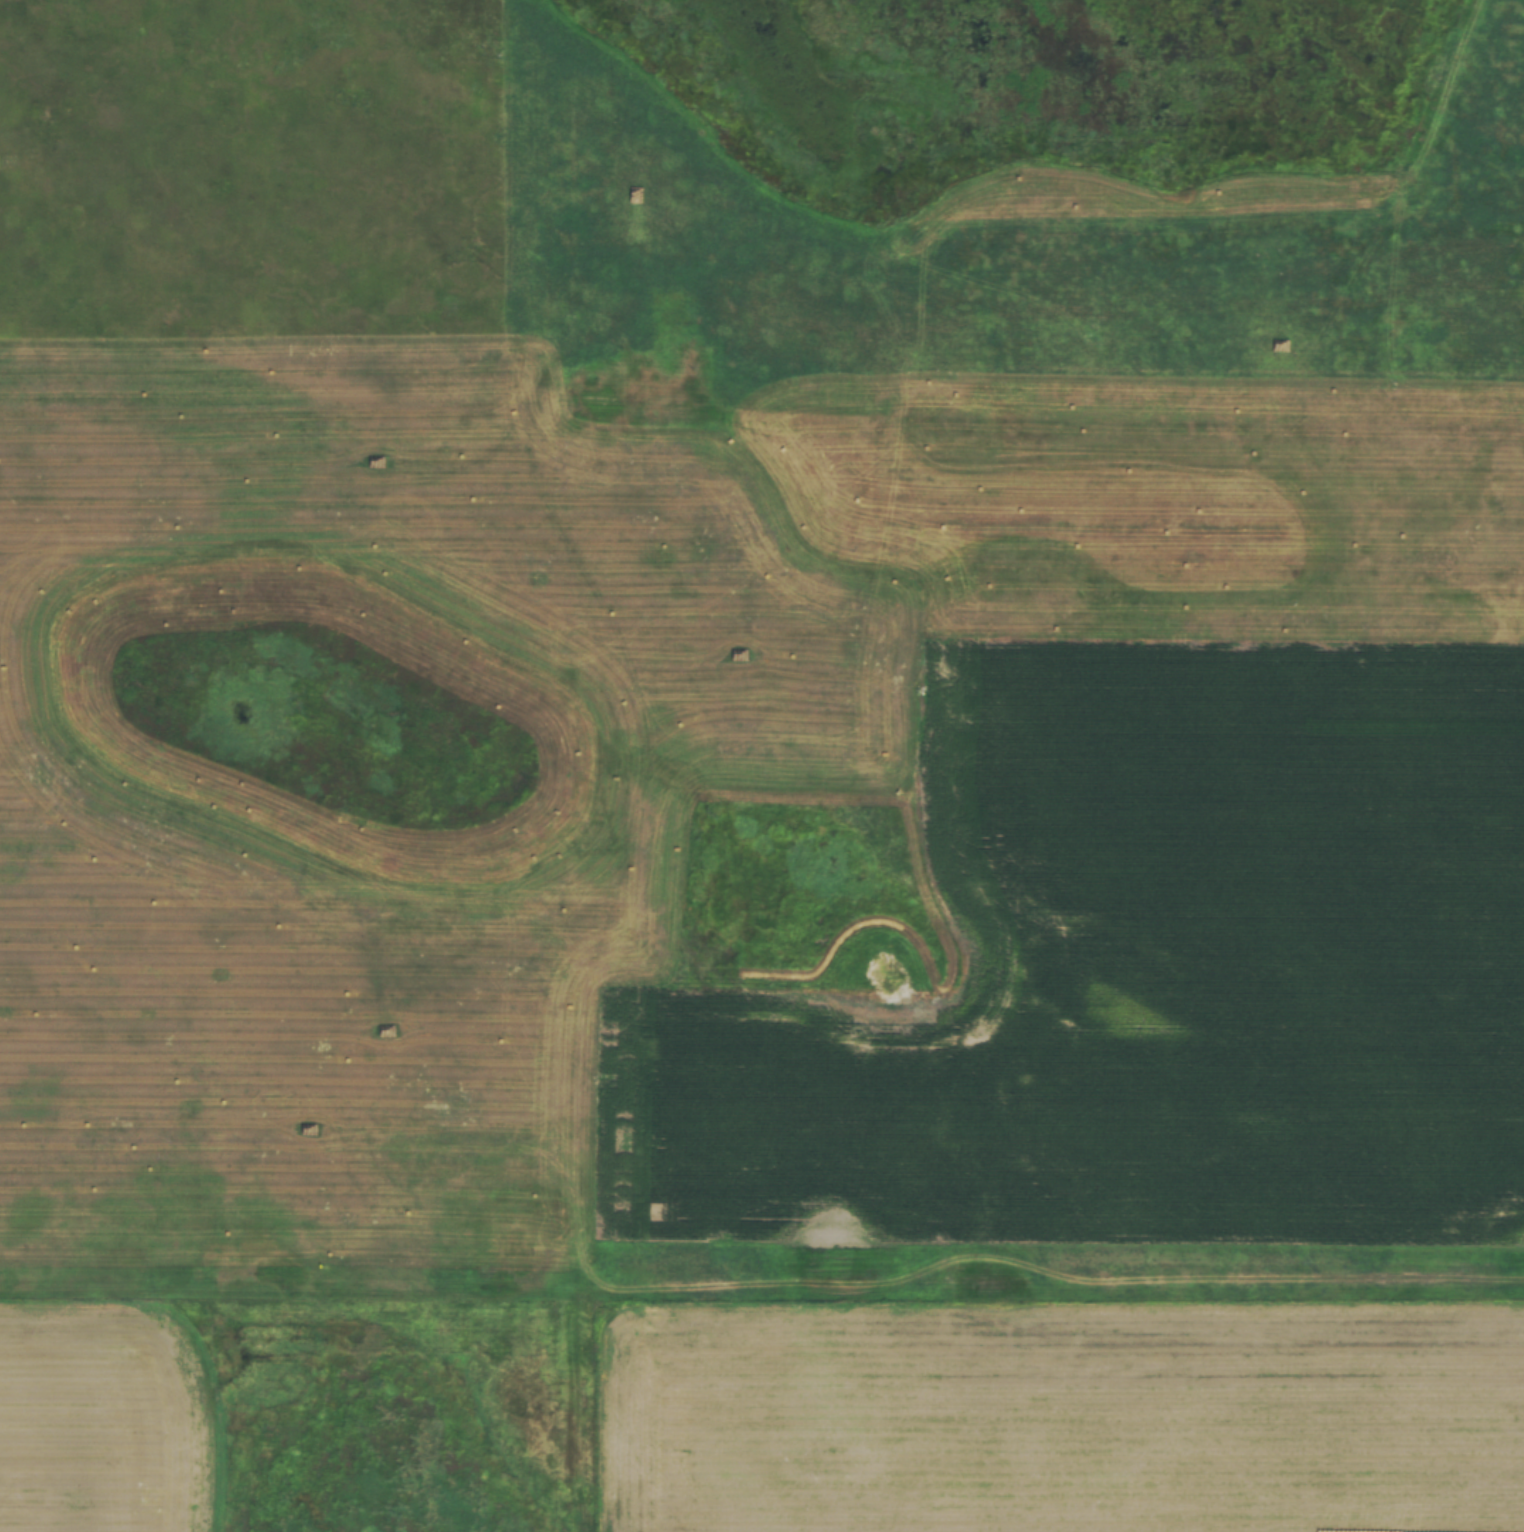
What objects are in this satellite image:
road: (299, 1324)
road: (598, 1409)

